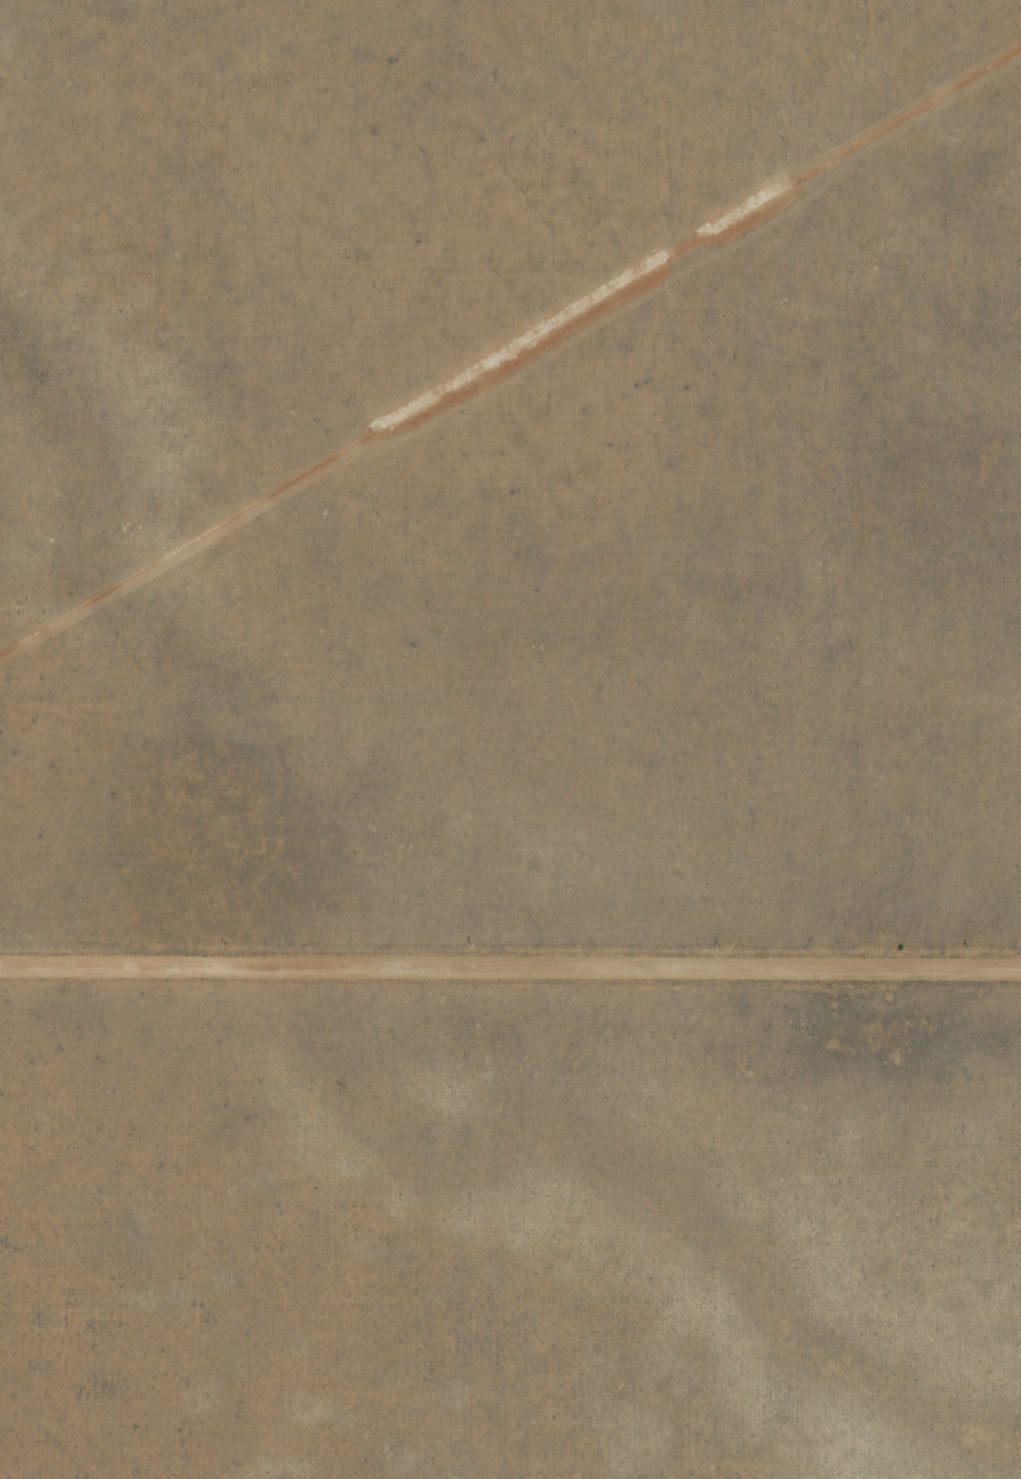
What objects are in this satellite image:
road: (510, 972)

